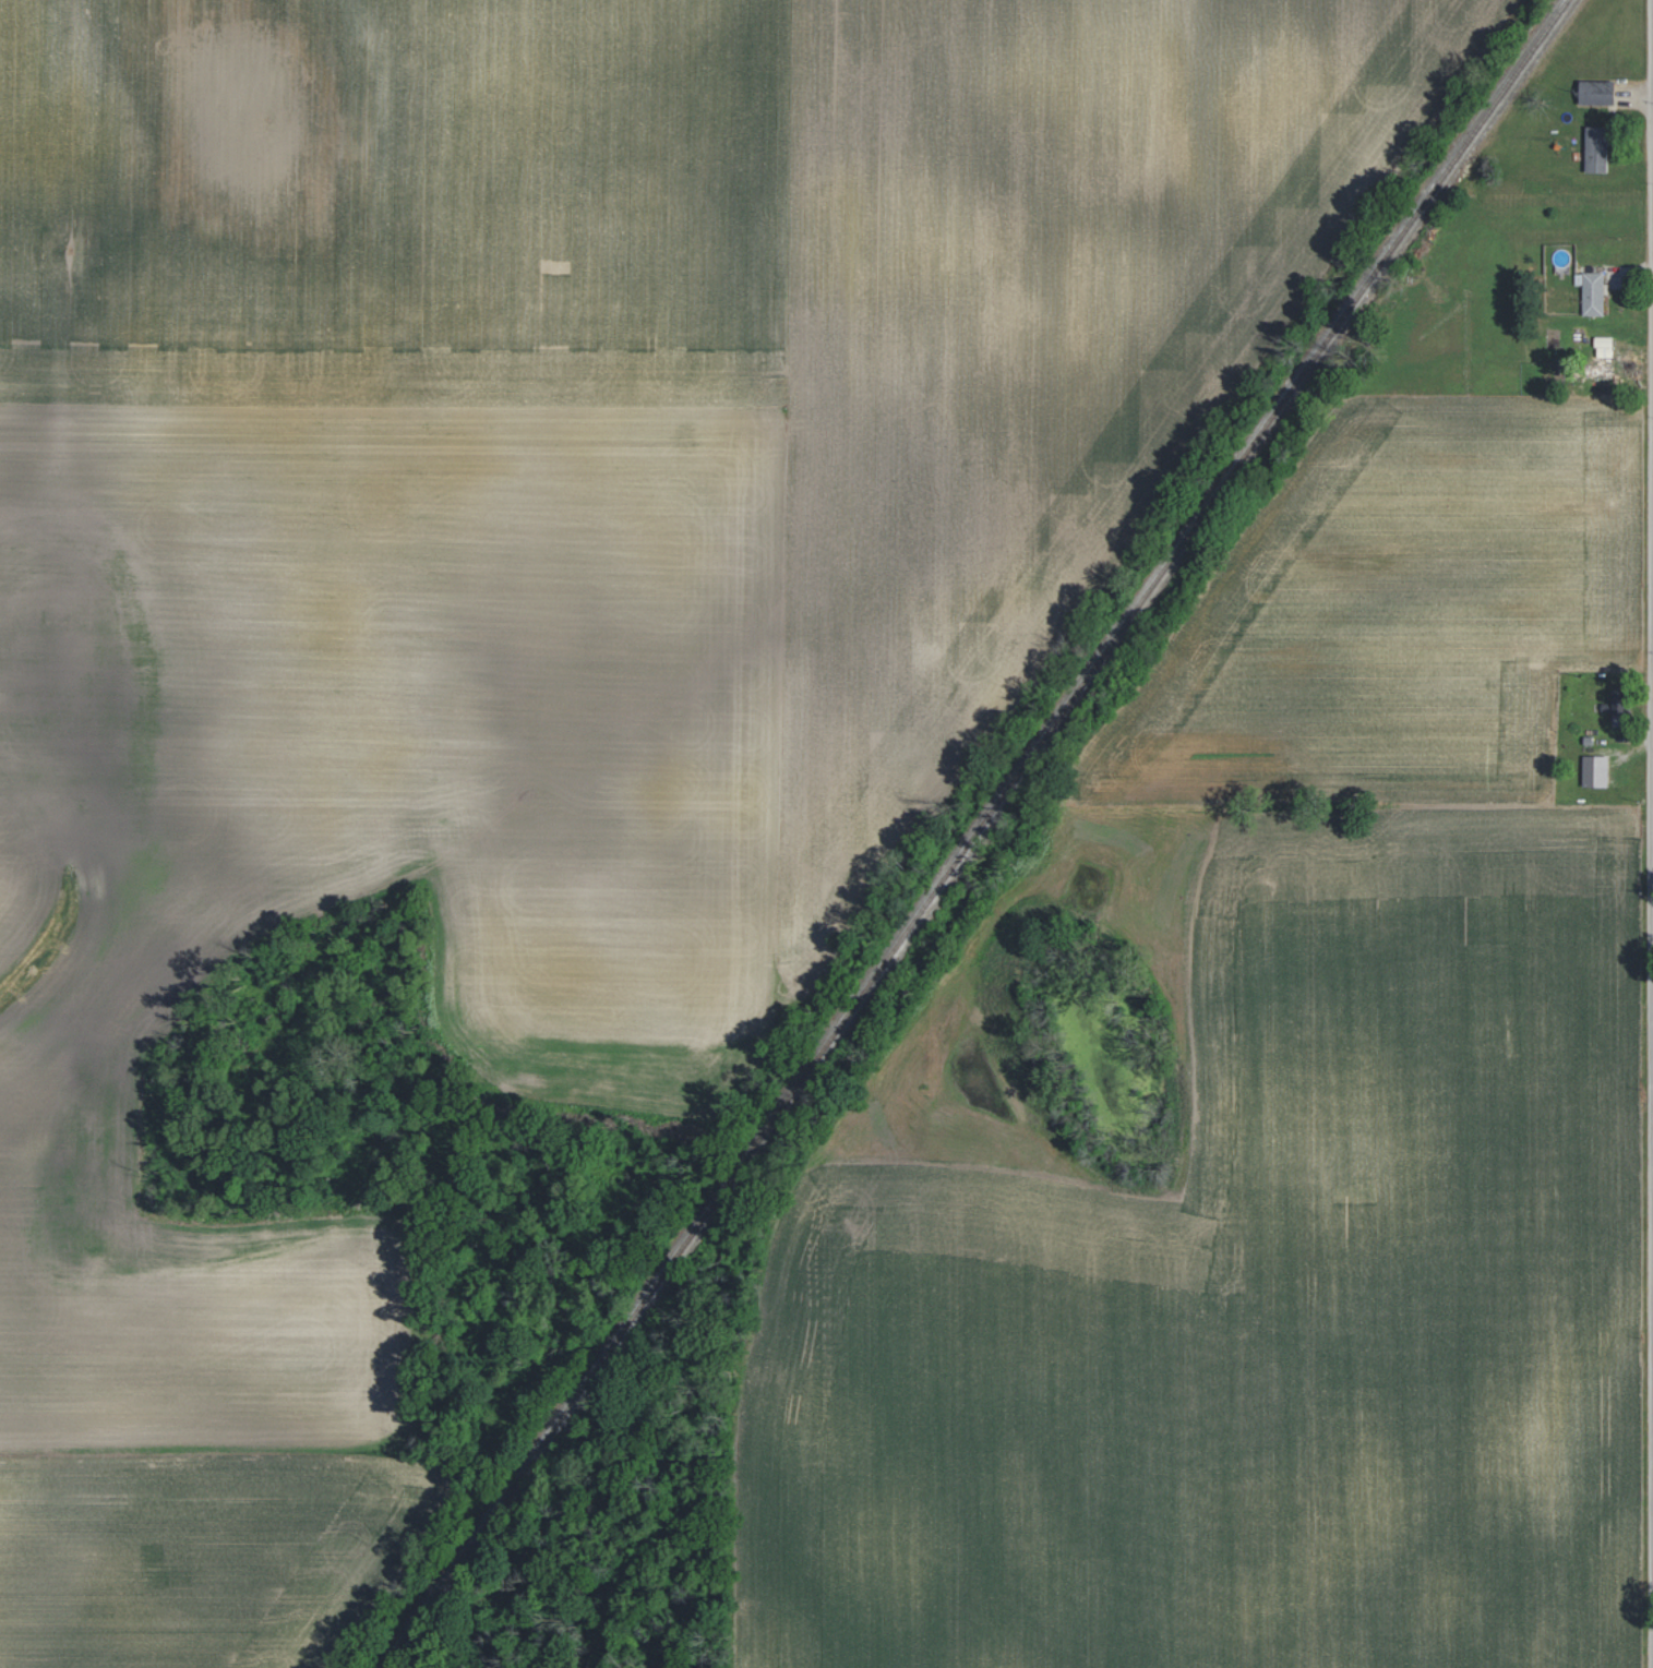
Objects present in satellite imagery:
building: (1596, 92)
building: (1596, 149)
building: (1591, 292)
building: (1603, 347)
building: (1594, 771)
railway: (977, 833)
road: (1651, 833)

